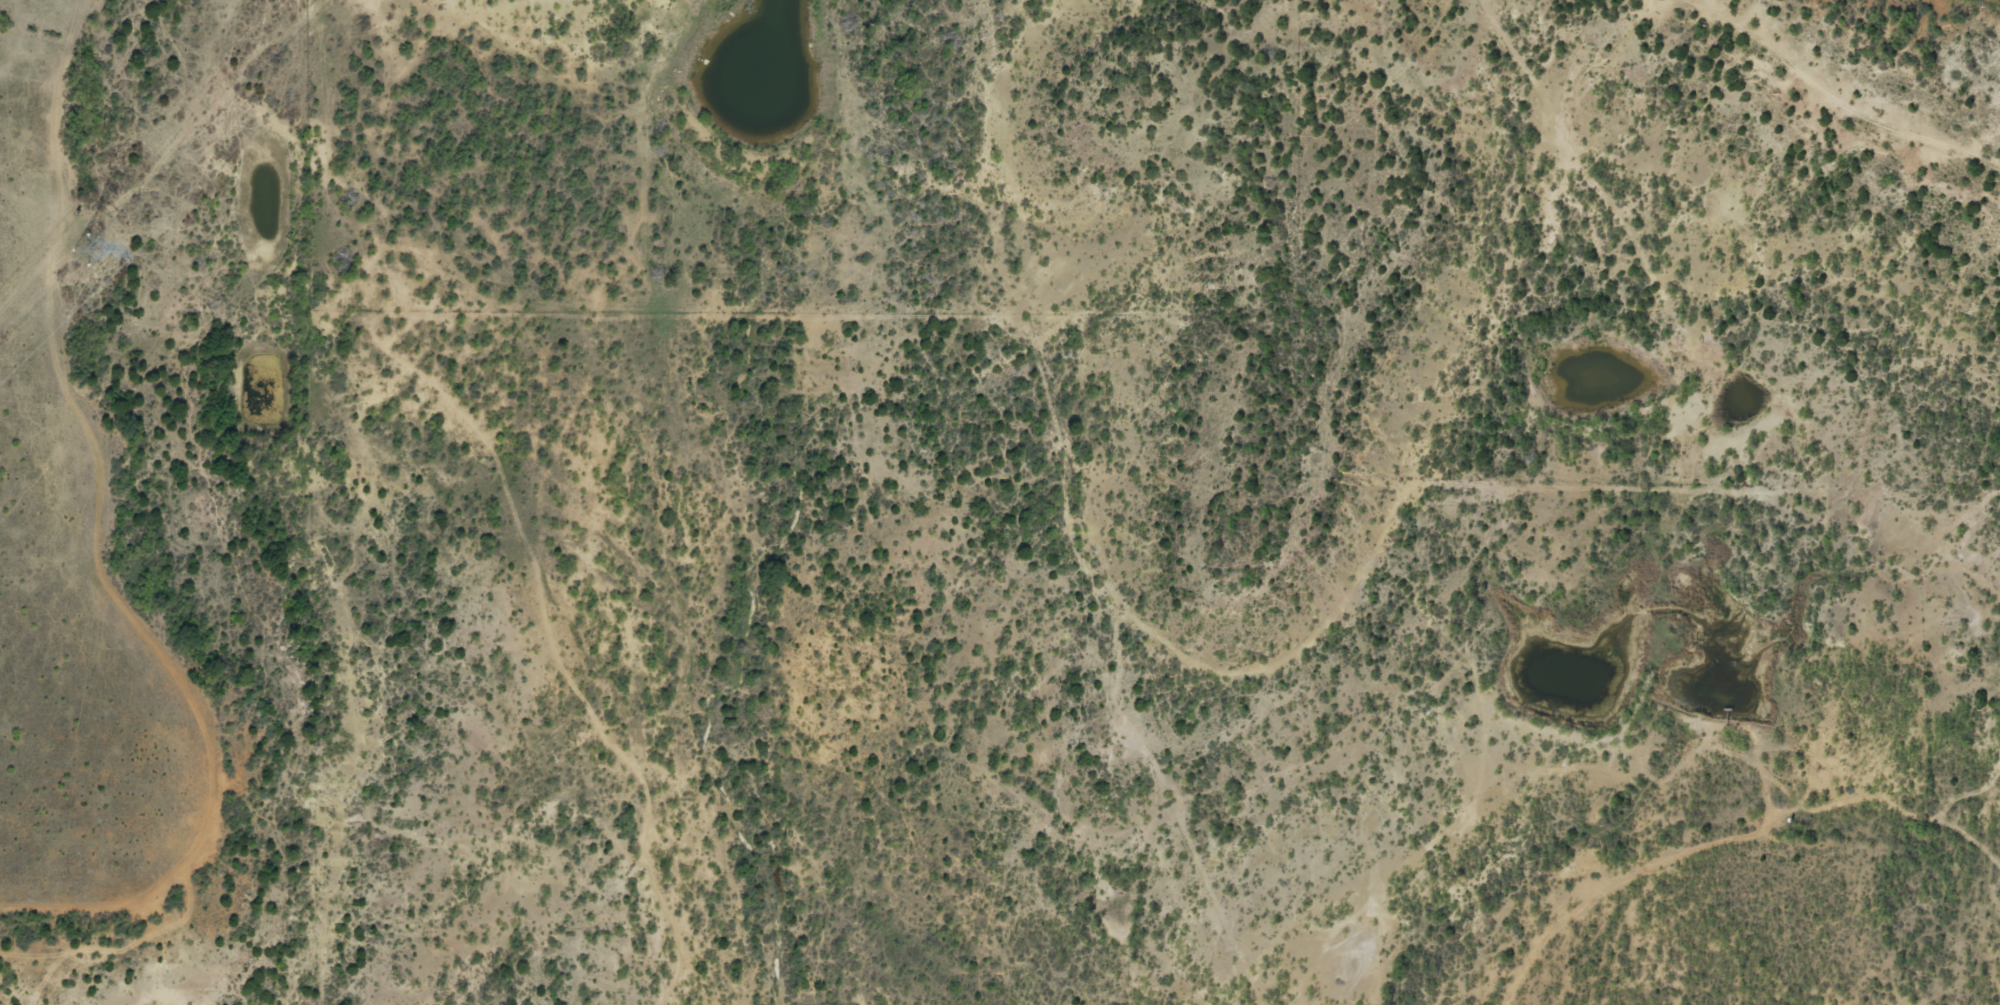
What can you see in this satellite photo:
power tower: (93, 247)
road: (100, 569)

